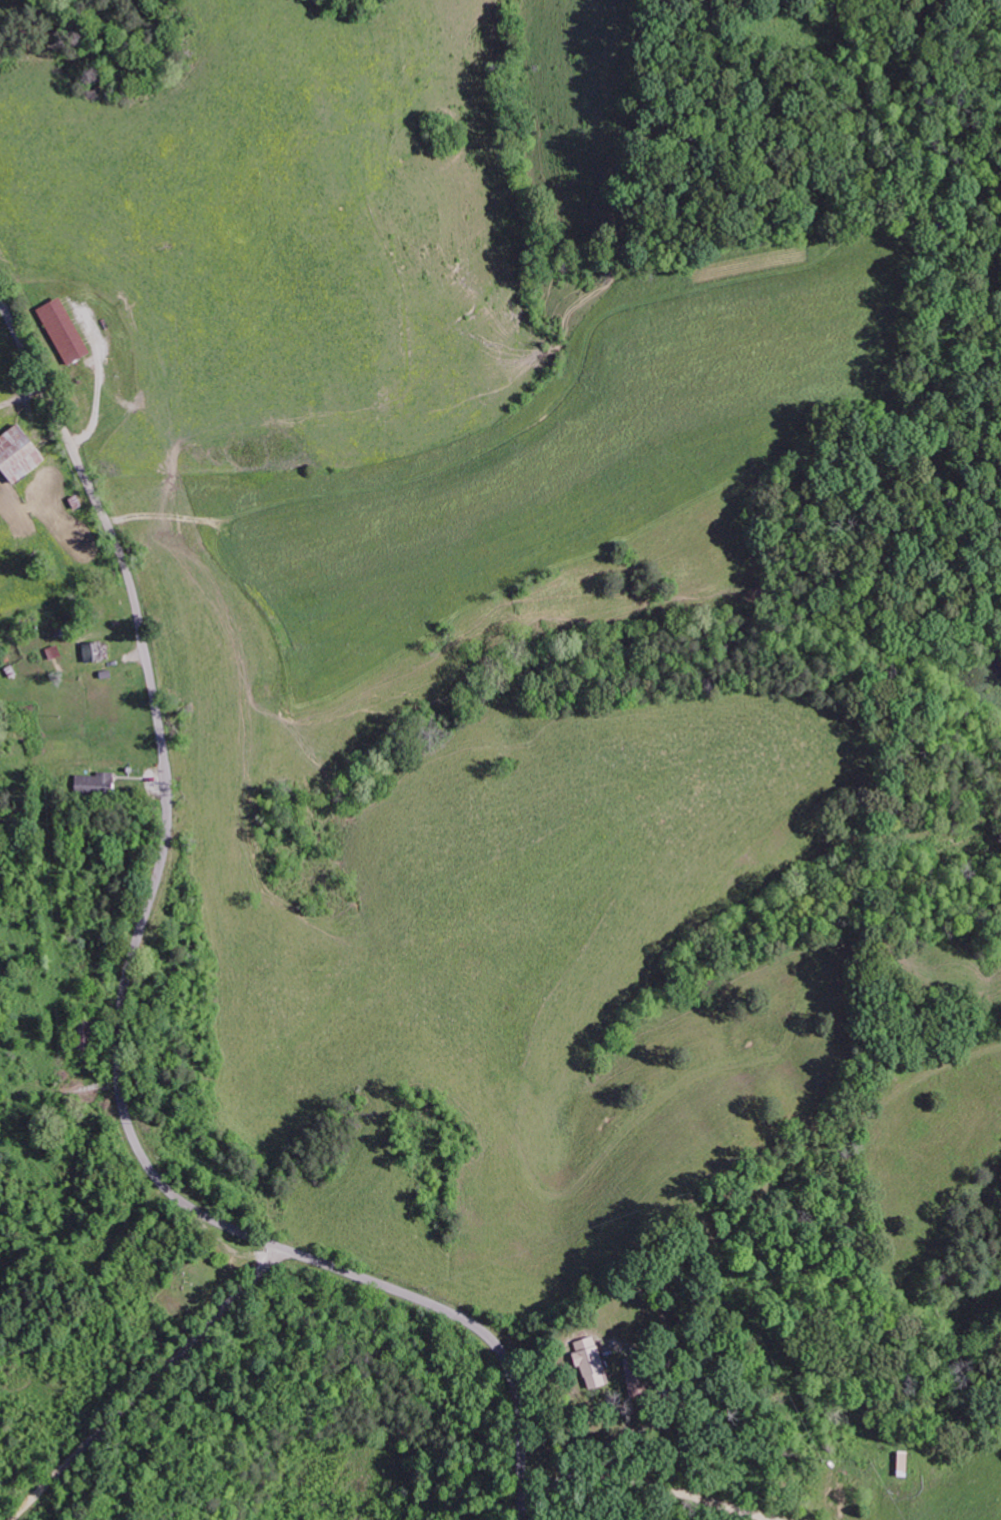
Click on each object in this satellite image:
building: (58, 330)
building: (15, 455)
building: (94, 782)
road: (121, 1004)
building: (587, 1361)
road: (147, 1384)

